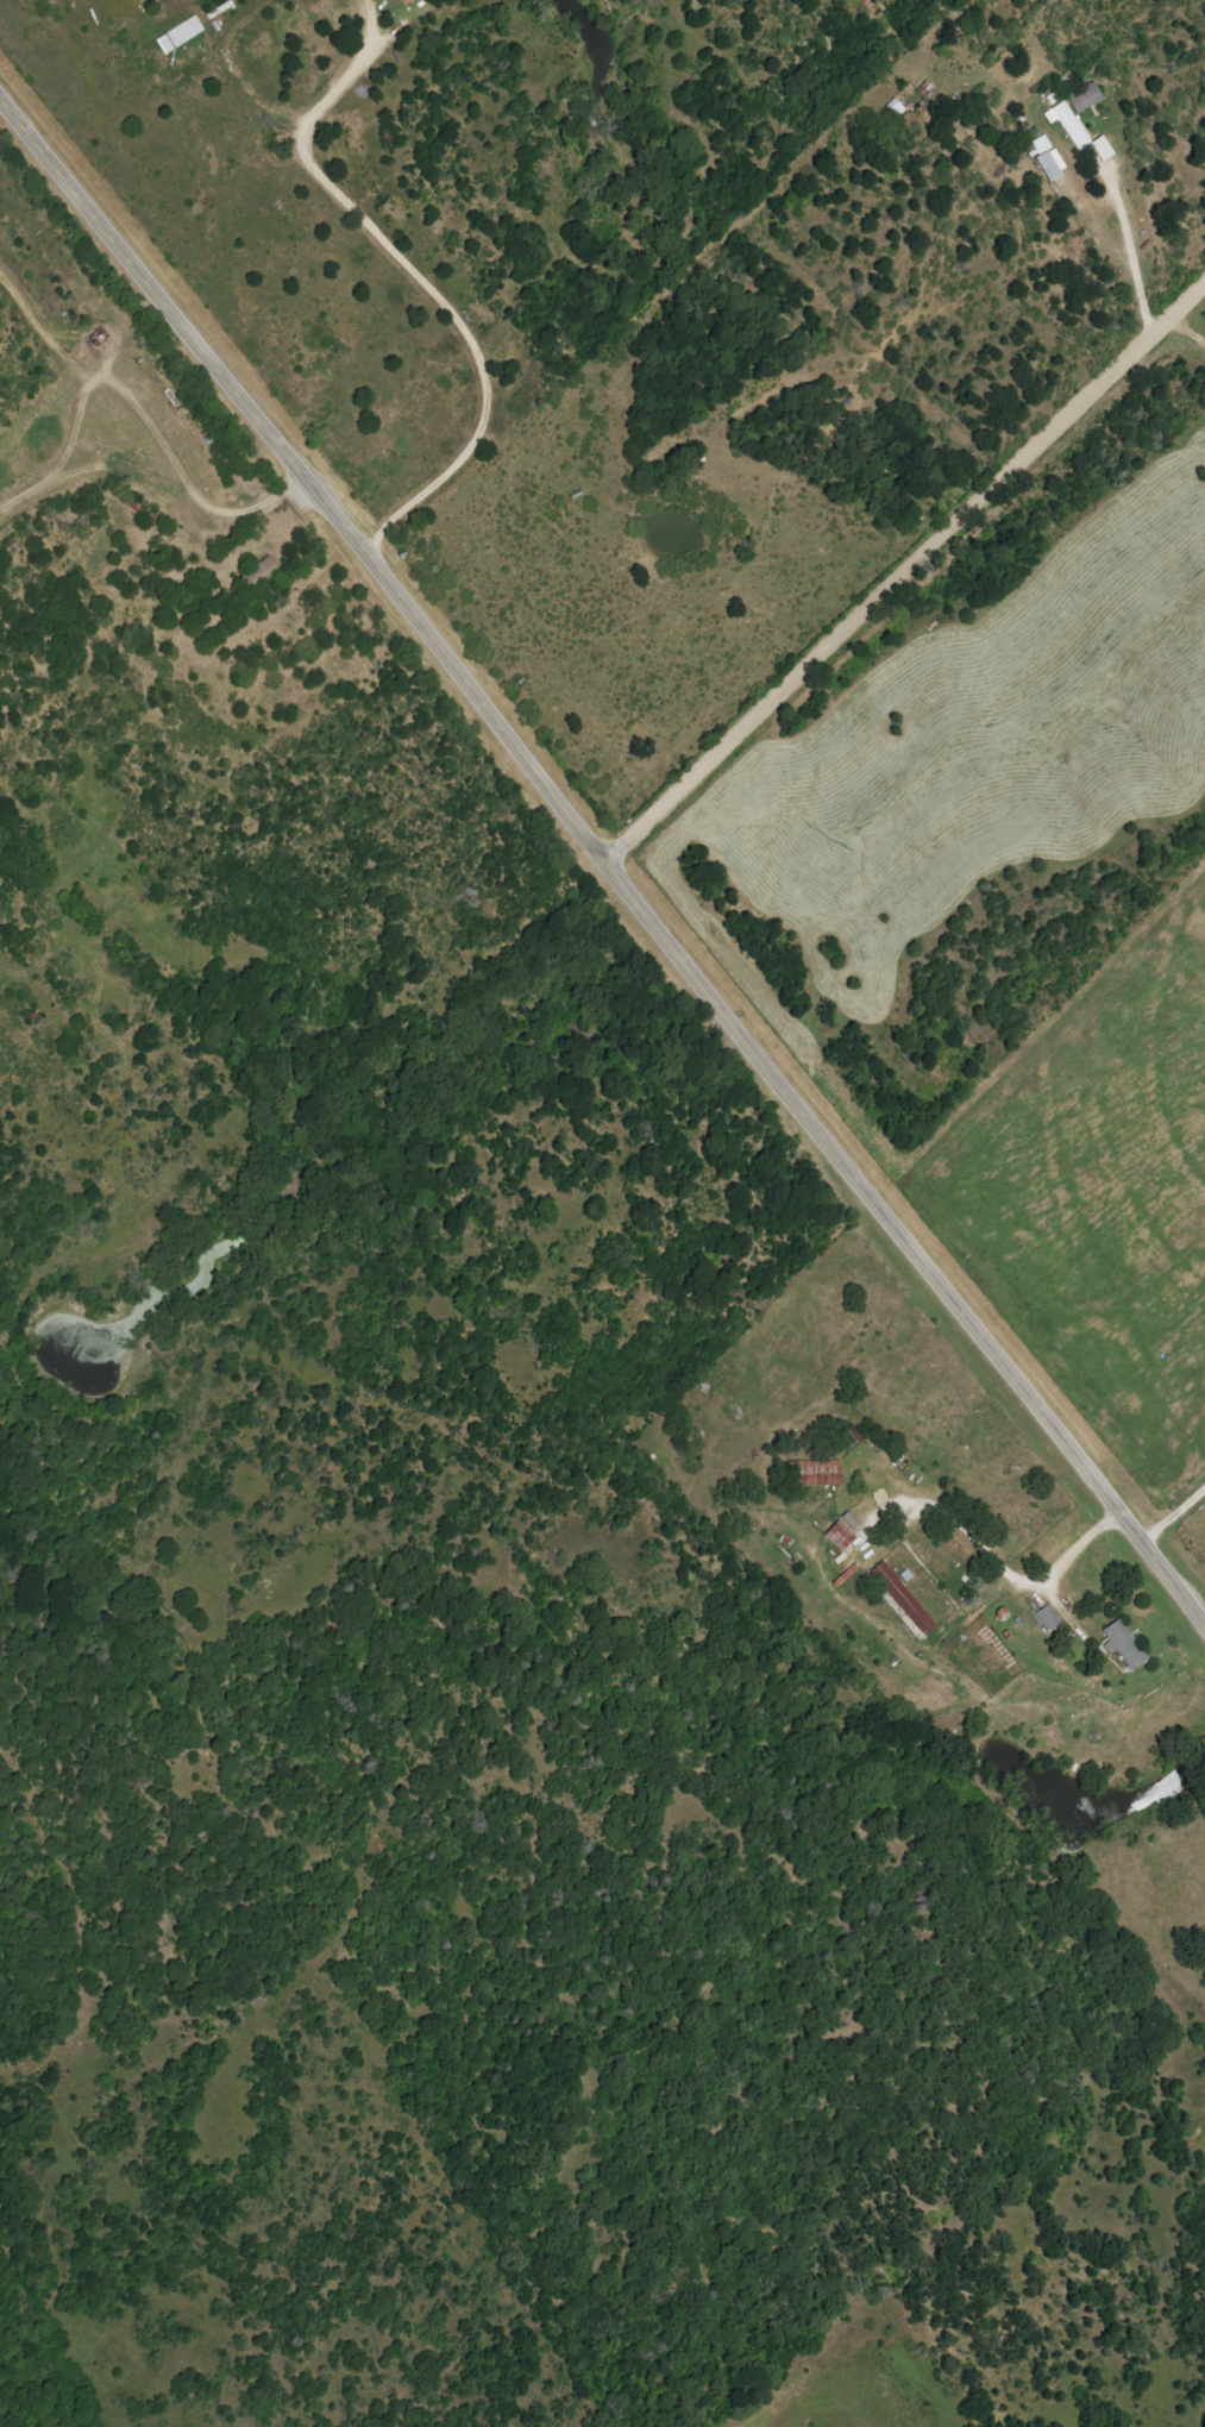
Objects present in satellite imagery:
building: (403, 1)
building: (180, 35)
road: (231, 68)
road: (352, 69)
building: (1084, 95)
road: (1049, 114)
building: (1077, 130)
building: (1044, 159)
road: (470, 334)
road: (893, 565)
road: (603, 863)
road: (673, 1344)
building: (815, 1472)
road: (1006, 1578)
building: (902, 1597)
building: (1123, 1644)

